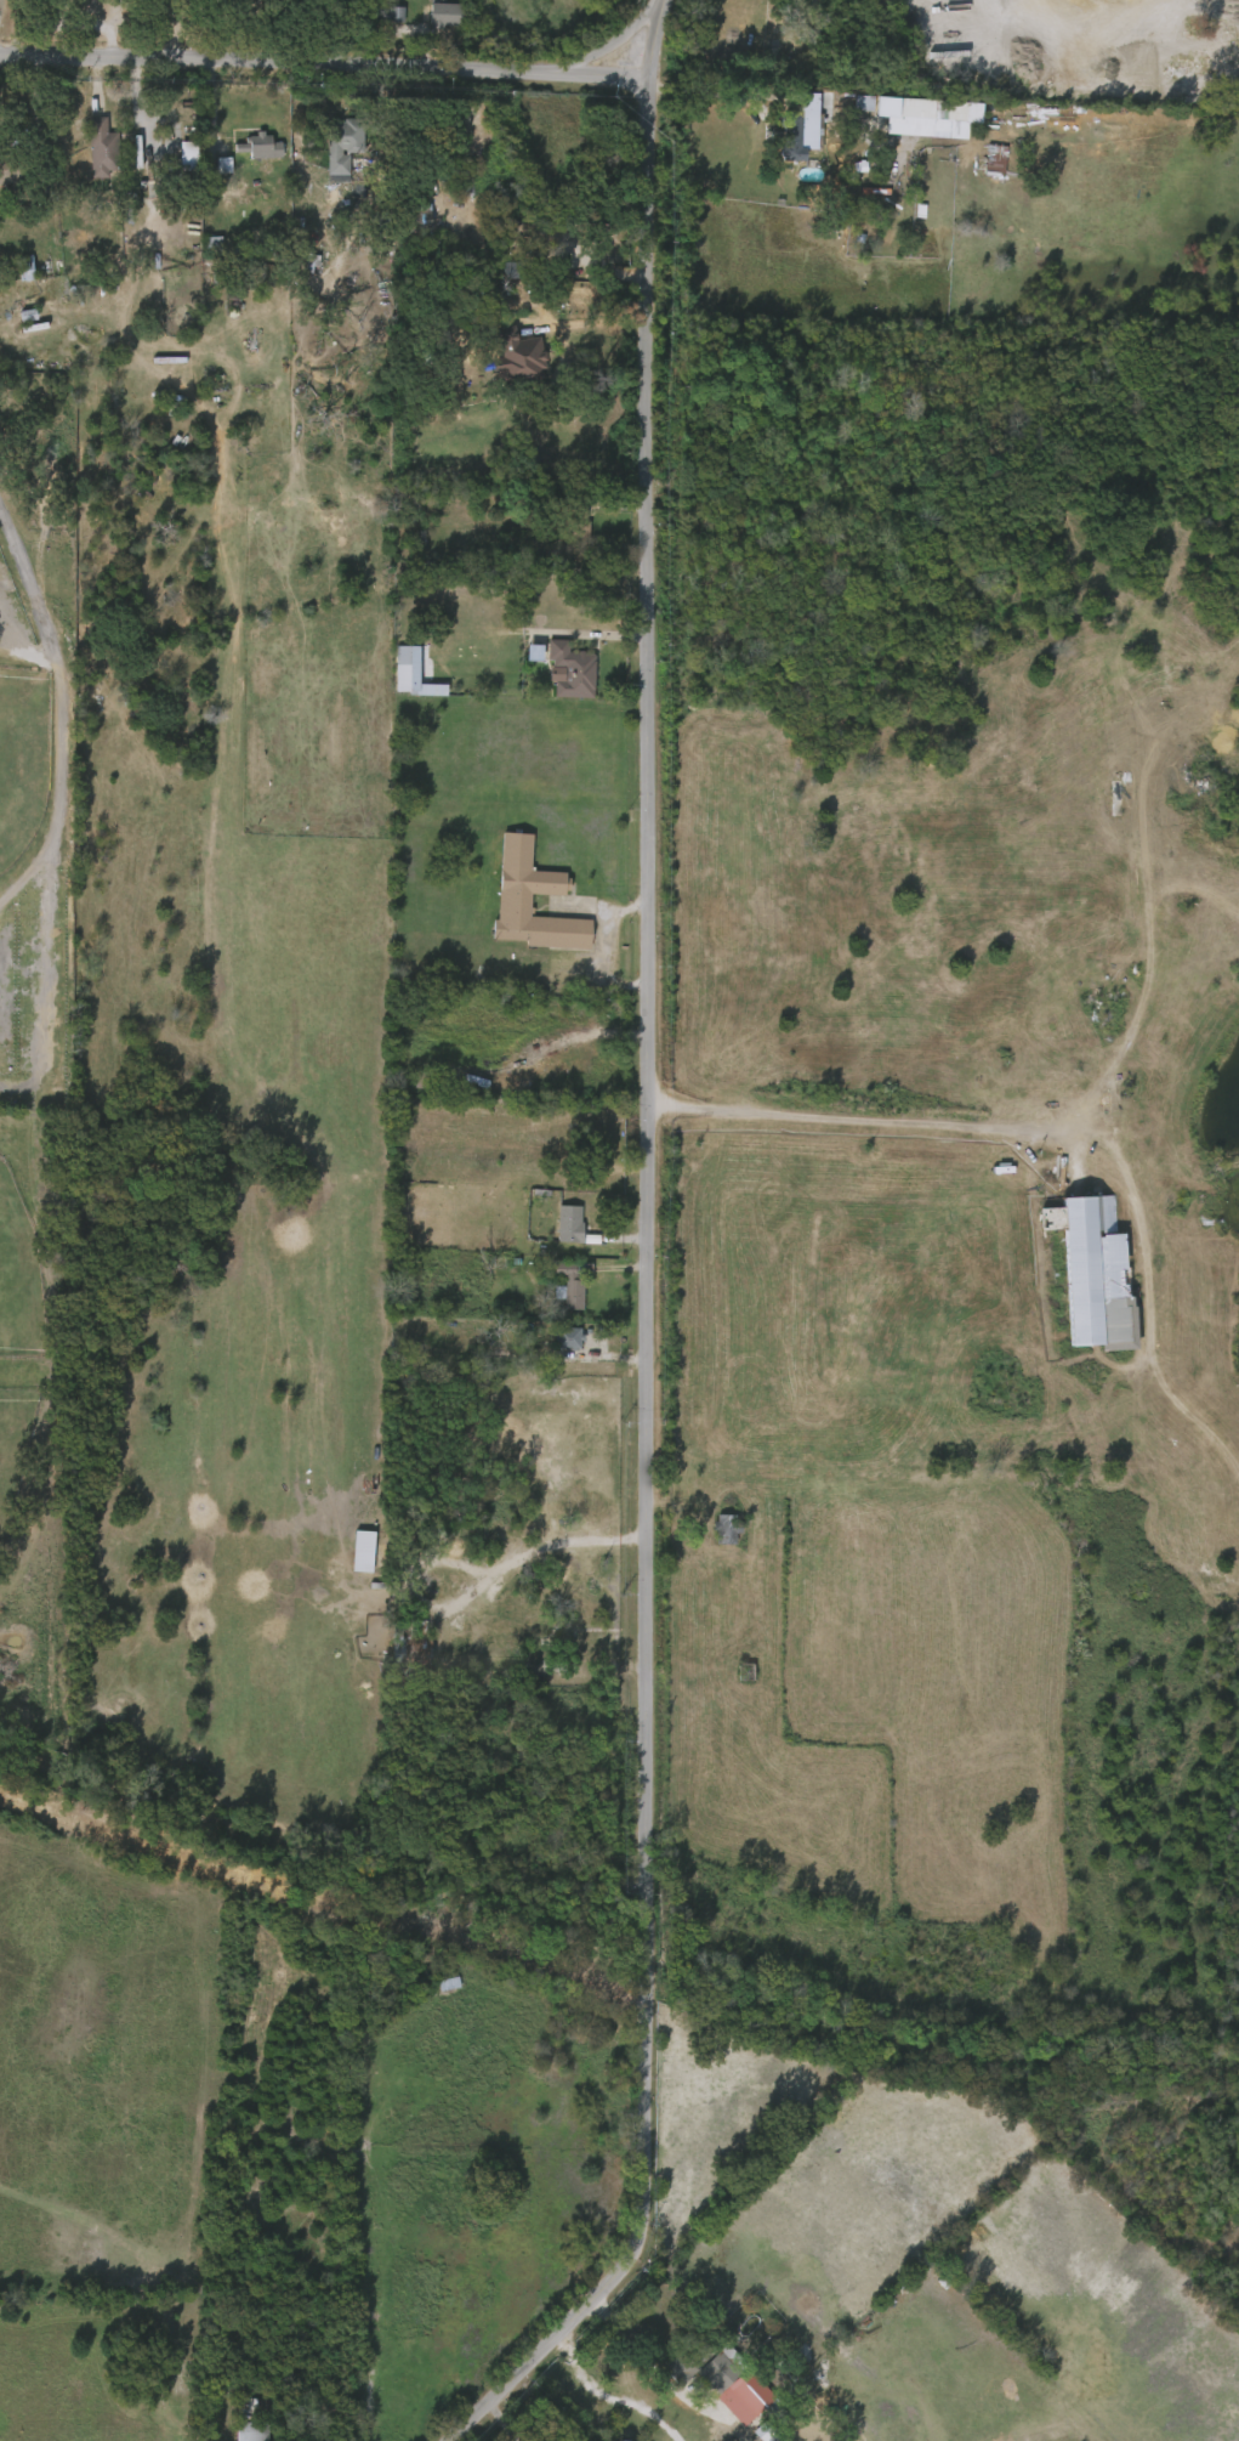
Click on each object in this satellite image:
building: (442, 13)
building: (381, 21)
building: (430, 22)
road: (606, 47)
road: (325, 68)
road: (785, 90)
building: (847, 109)
building: (911, 109)
building: (807, 124)
building: (784, 136)
building: (346, 142)
building: (102, 148)
building: (258, 151)
building: (328, 153)
building: (86, 155)
building: (995, 158)
building: (979, 165)
building: (209, 171)
building: (16, 174)
building: (462, 180)
building: (419, 215)
building: (521, 355)
building: (502, 364)
building: (573, 519)
building: (570, 670)
building: (391, 674)
road: (64, 737)
building: (530, 889)
road: (854, 1120)
building: (573, 1227)
building: (555, 1229)
road: (653, 1258)
building: (1091, 1269)
building: (568, 1282)
building: (556, 1290)
building: (569, 1338)
building: (555, 1344)
building: (727, 1528)
building: (711, 1534)
building: (347, 1556)
building: (407, 1647)
building: (687, 2360)
building: (755, 2389)
building: (244, 2418)

